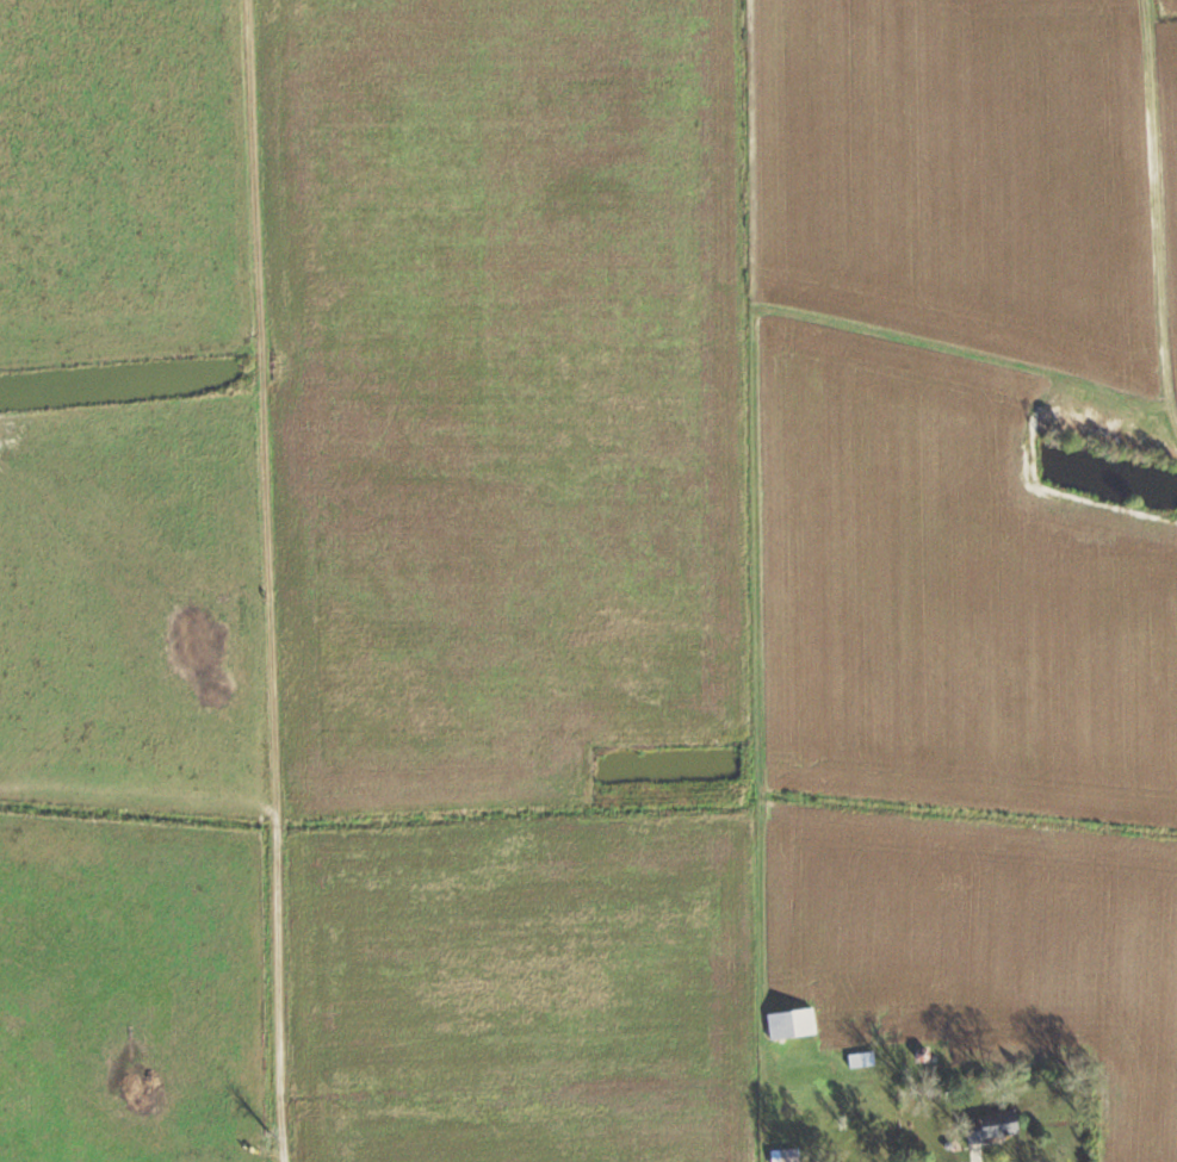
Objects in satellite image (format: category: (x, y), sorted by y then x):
building: (792, 1024)
building: (862, 1060)
building: (990, 1126)
building: (782, 1156)

